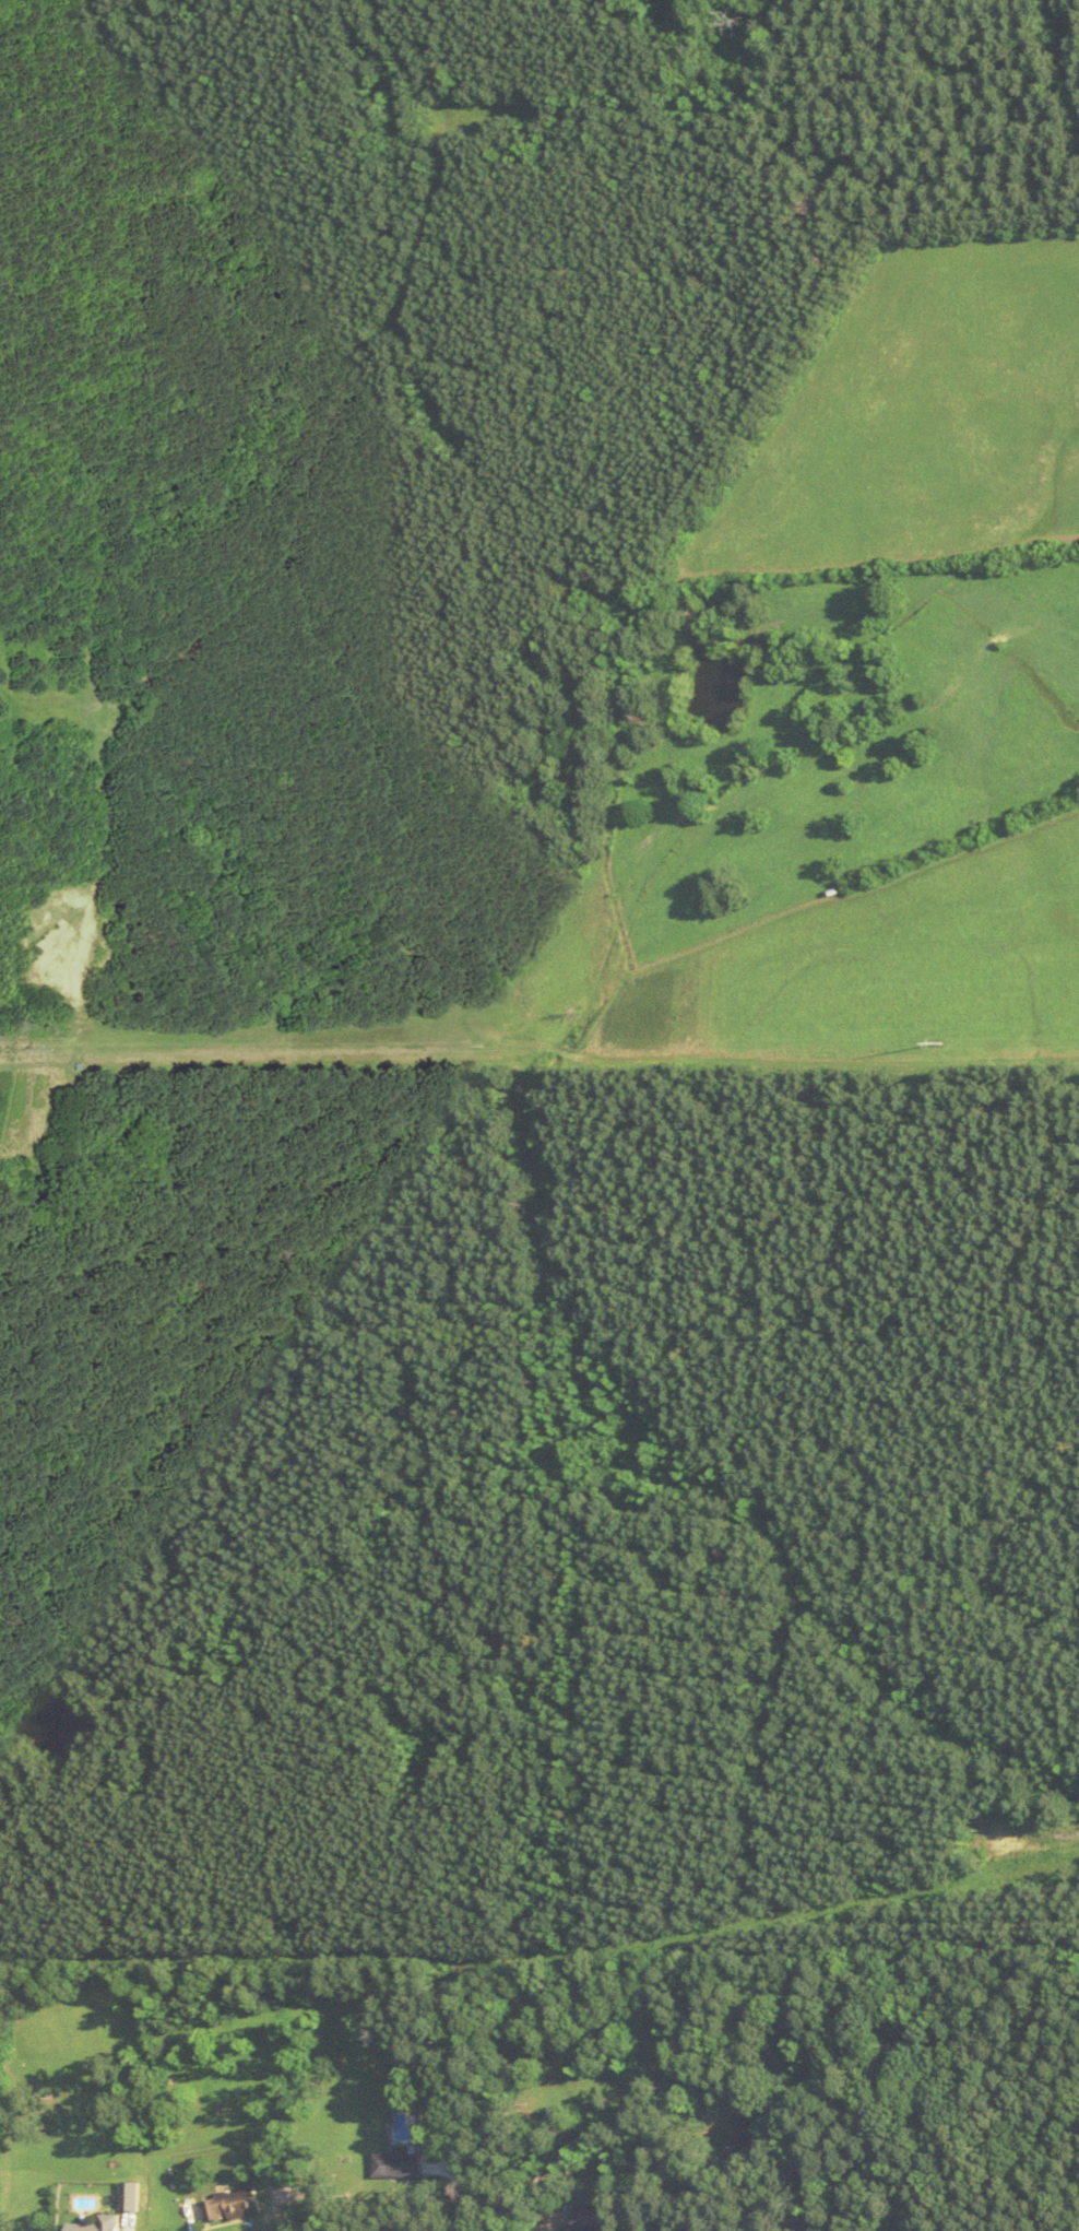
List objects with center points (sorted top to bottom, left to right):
building: (752, 2145)
building: (400, 2160)
building: (293, 2192)
building: (233, 2203)
building: (595, 2214)
building: (99, 2223)

